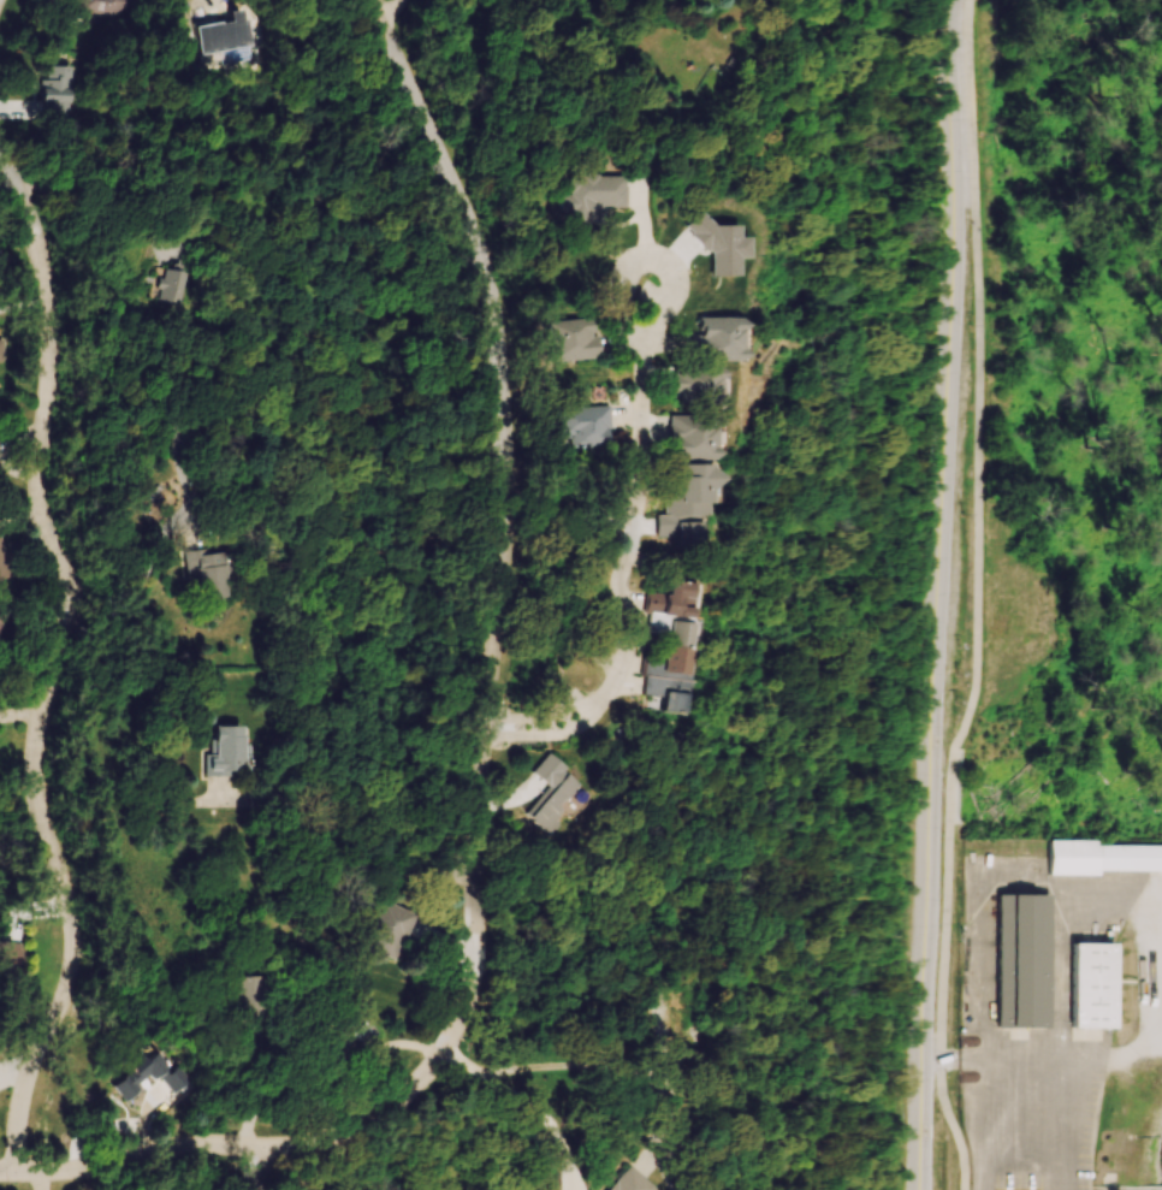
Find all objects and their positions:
building: (109, 7)
road: (392, 8)
building: (229, 40)
building: (58, 93)
road: (103, 194)
building: (609, 196)
building: (182, 285)
building: (746, 338)
building: (588, 339)
building: (722, 386)
building: (601, 426)
park: (1061, 427)
building: (191, 438)
building: (718, 438)
road: (509, 489)
building: (709, 504)
road: (978, 531)
building: (5, 560)
road: (648, 561)
building: (219, 575)
road: (942, 594)
road: (134, 600)
building: (694, 627)
road: (61, 662)
building: (235, 752)
building: (563, 793)
building: (1099, 852)
road: (350, 854)
road: (1145, 899)
building: (397, 933)
road: (1157, 942)
road: (985, 961)
building: (1025, 963)
building: (1087, 982)
building: (253, 1000)
parking lot: (1033, 1017)
road: (1134, 1046)
building: (338, 1055)
road: (1015, 1059)
building: (148, 1078)
road: (530, 1102)
road: (953, 1124)
road: (1072, 1124)
road: (265, 1145)
road: (262, 1168)
road: (1125, 1185)
building: (636, 1188)
building: (650, 1189)

